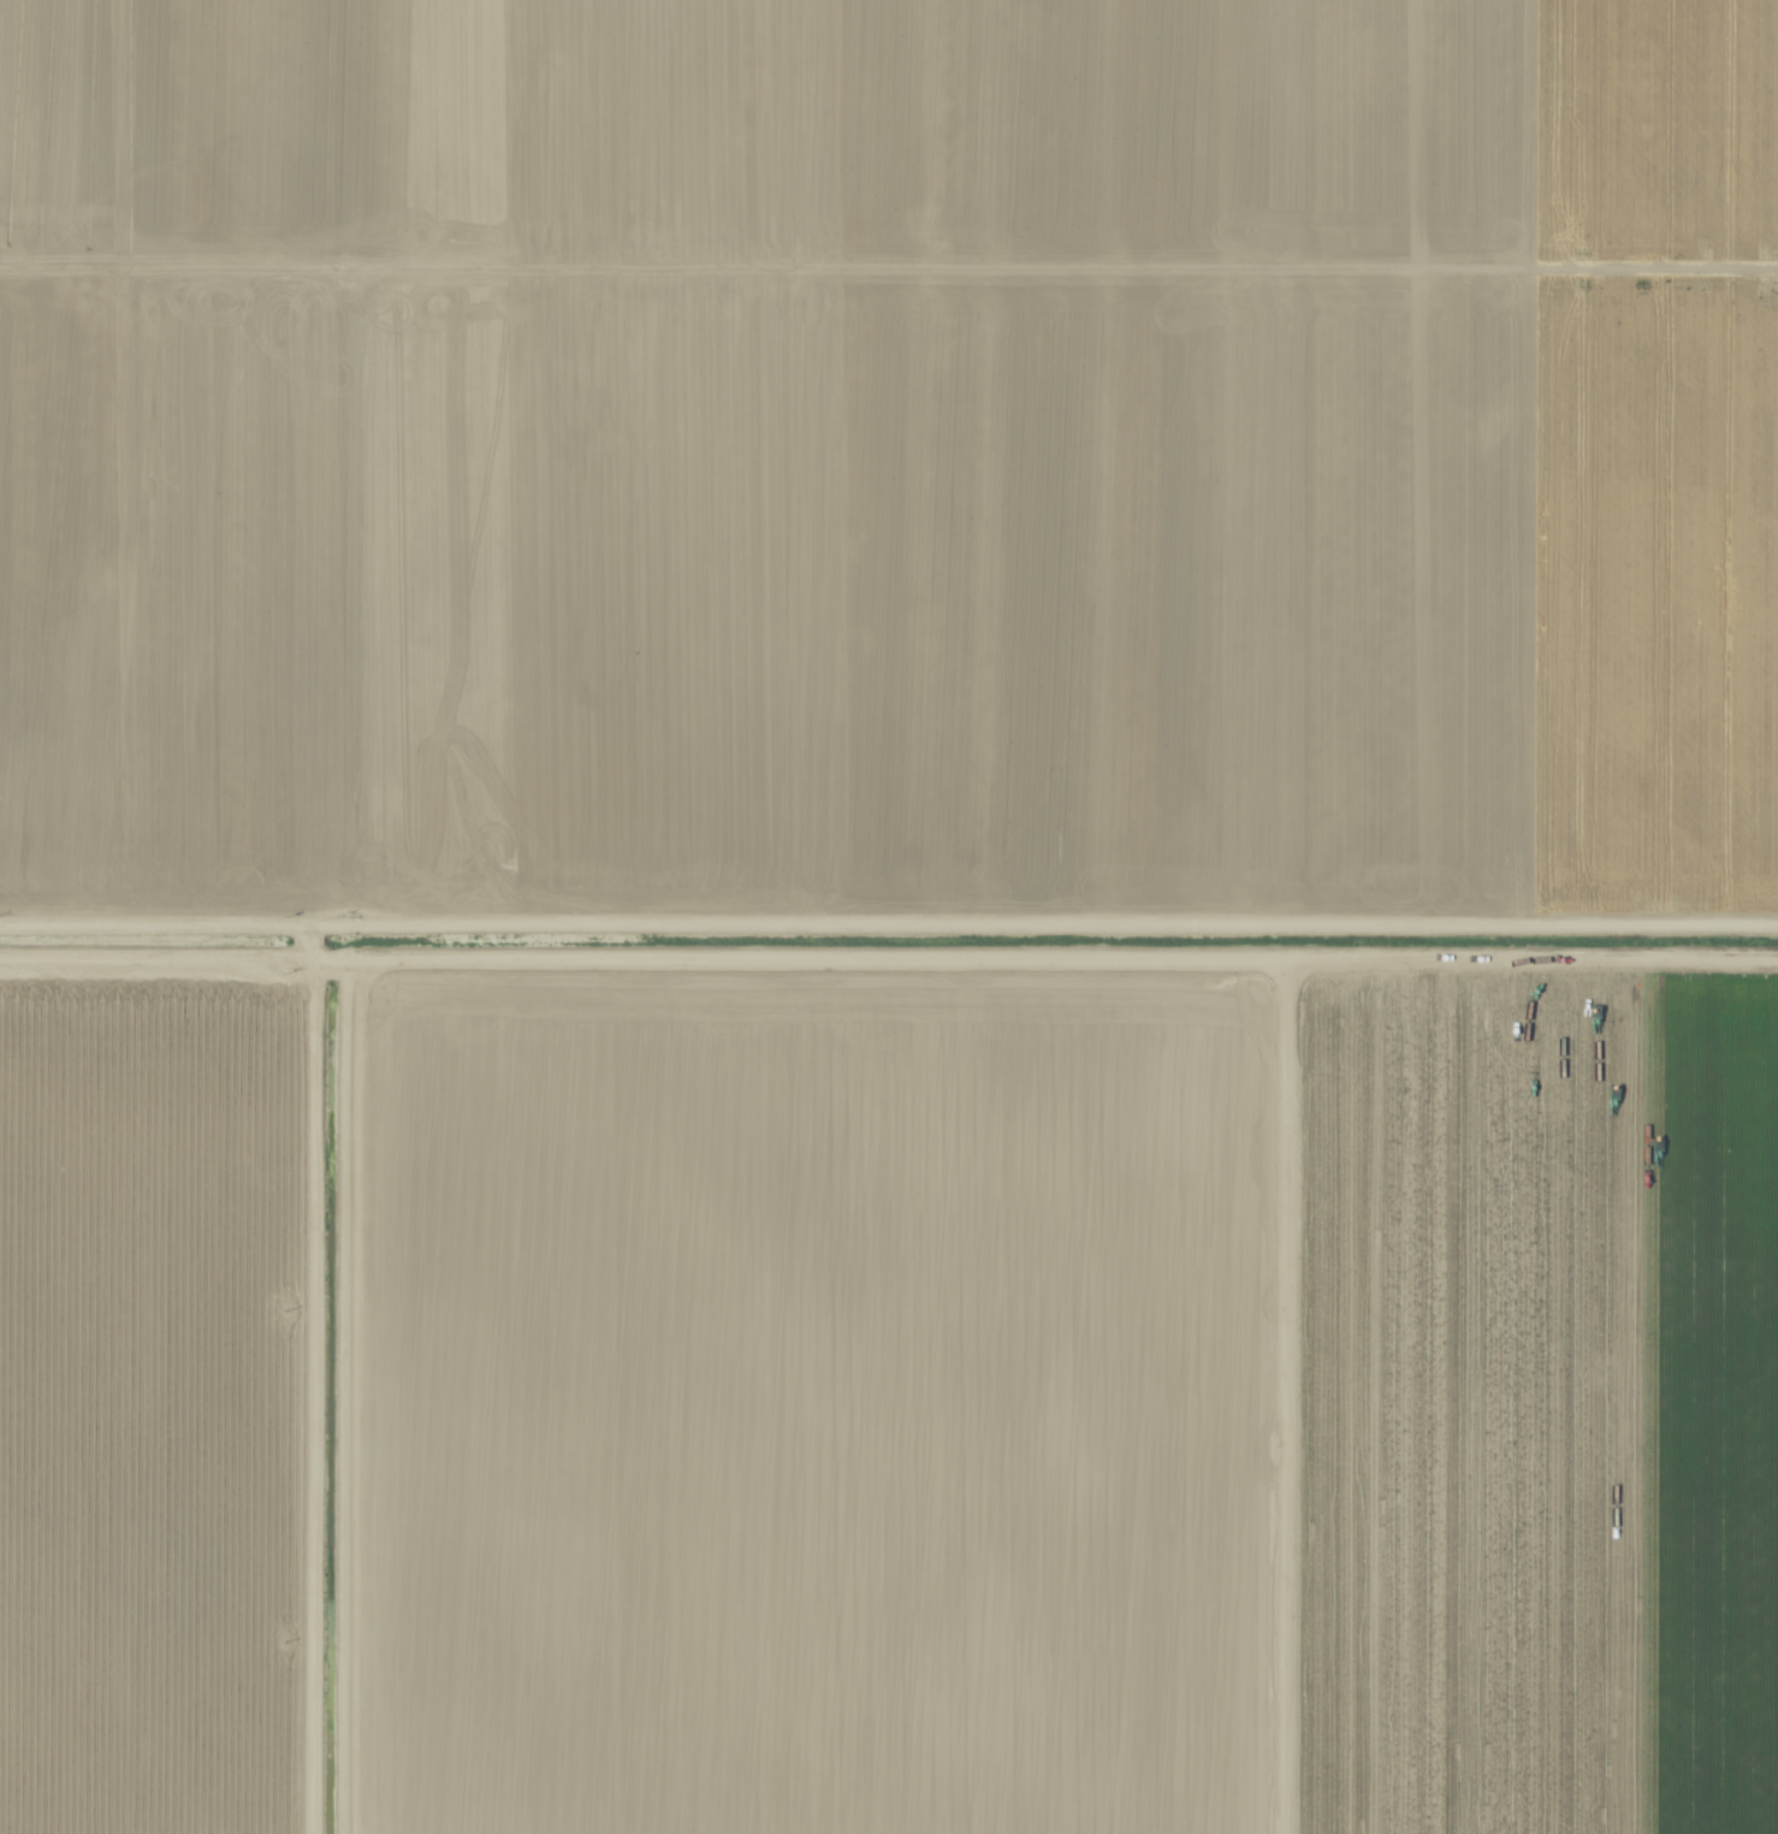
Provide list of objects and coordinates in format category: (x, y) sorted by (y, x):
road: (179, 912)
crop: (889, 917)
road: (1068, 919)
road: (158, 964)
road: (313, 1373)

